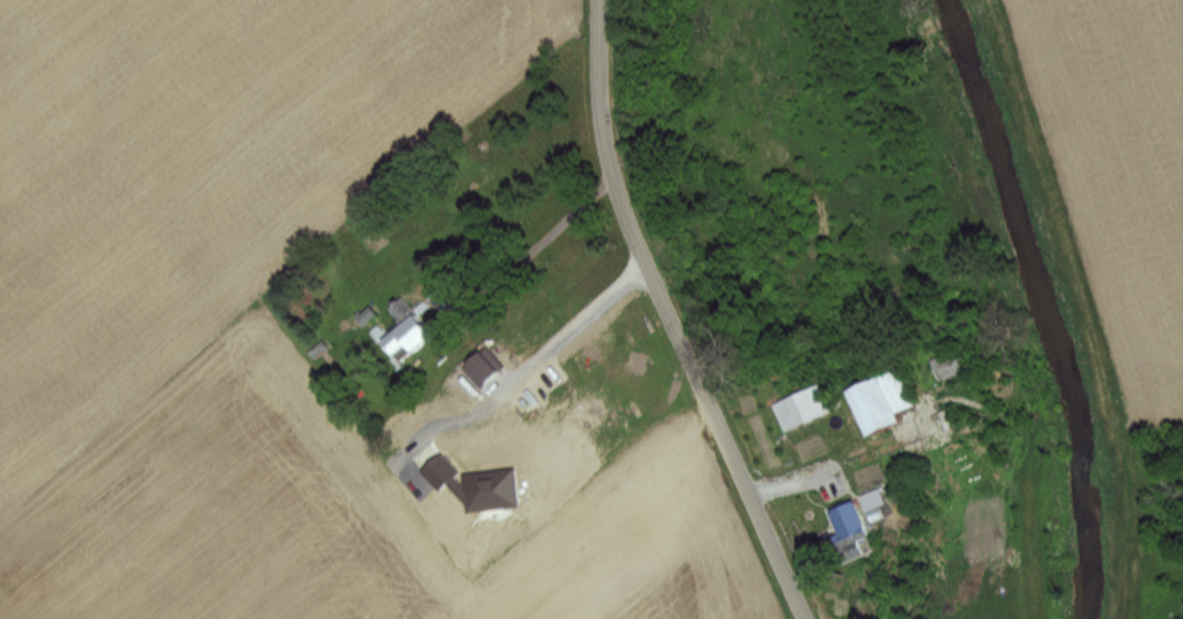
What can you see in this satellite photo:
crop: (1109, 229)
road: (537, 240)
river: (1050, 303)
road: (671, 317)
road: (571, 321)
building: (411, 333)
building: (947, 365)
building: (482, 368)
building: (879, 400)
building: (801, 406)
building: (842, 540)

